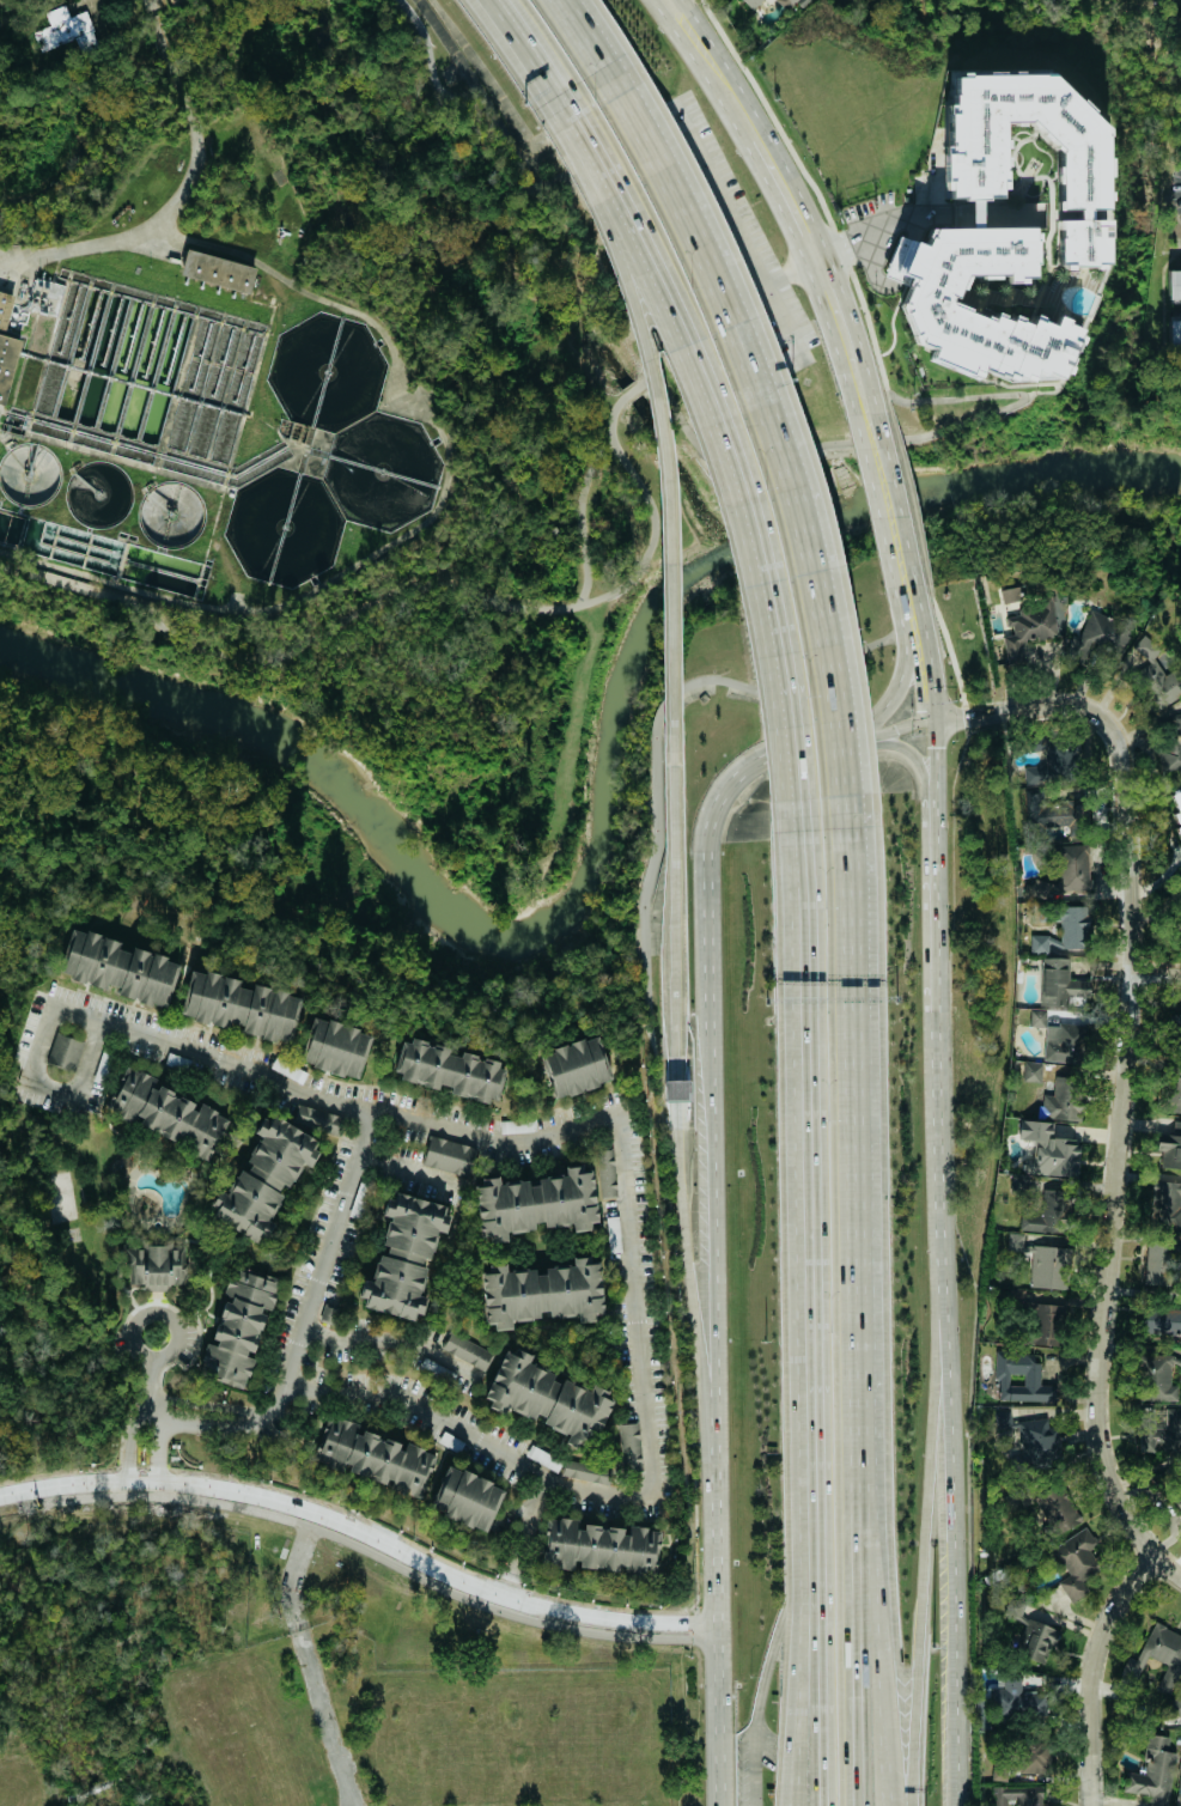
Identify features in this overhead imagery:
building: (751, 2)
building: (789, 2)
road: (154, 19)
building: (65, 30)
road: (589, 48)
building: (1180, 53)
road: (535, 59)
road: (511, 65)
road: (179, 85)
road: (469, 116)
road: (187, 189)
road: (787, 197)
road: (585, 221)
building: (1003, 227)
road: (735, 230)
parking lot: (739, 230)
road: (884, 232)
building: (217, 270)
road: (791, 275)
road: (732, 279)
building: (1174, 284)
road: (726, 304)
building: (5, 308)
road: (684, 322)
building: (1175, 334)
building: (7, 361)
road: (647, 376)
road: (784, 376)
road: (629, 390)
wastewater plant: (201, 422)
road: (663, 422)
road: (902, 439)
road: (446, 445)
road: (808, 495)
road: (890, 498)
road: (582, 523)
road: (401, 590)
building: (1009, 594)
road: (912, 619)
building: (1027, 631)
building: (1098, 637)
road: (829, 662)
road: (784, 670)
building: (1156, 676)
road: (923, 687)
road: (899, 693)
traffic signals: (929, 724)
road: (901, 728)
building: (1171, 740)
road: (817, 748)
road: (915, 759)
building: (1053, 761)
road: (933, 764)
building: (1176, 809)
building: (1053, 813)
river: (610, 826)
building: (1066, 870)
road: (938, 906)
building: (117, 966)
road: (1155, 974)
building: (1059, 981)
building: (242, 1007)
road: (108, 1026)
building: (1176, 1026)
road: (651, 1027)
building: (1059, 1039)
building: (335, 1047)
building: (65, 1052)
road: (1126, 1054)
building: (574, 1066)
building: (448, 1069)
building: (1029, 1070)
building: (676, 1090)
toll booth: (677, 1091)
building: (1173, 1093)
building: (1063, 1097)
road: (677, 1100)
building: (163, 1112)
building: (1169, 1145)
building: (1048, 1150)
building: (448, 1155)
building: (607, 1170)
road: (407, 1176)
building: (262, 1178)
road: (804, 1180)
building: (1021, 1184)
building: (535, 1203)
building: (1049, 1211)
building: (1015, 1241)
building: (403, 1255)
building: (156, 1264)
building: (1158, 1265)
building: (1051, 1266)
road: (319, 1267)
road: (713, 1276)
road: (860, 1281)
building: (541, 1291)
building: (1161, 1320)
building: (1045, 1324)
building: (237, 1326)
road: (386, 1338)
road: (132, 1350)
building: (467, 1350)
road: (638, 1370)
building: (1162, 1375)
building: (1021, 1378)
road: (148, 1393)
building: (548, 1398)
road: (944, 1407)
road: (142, 1410)
road: (241, 1415)
building: (1159, 1417)
road: (163, 1425)
road: (241, 1425)
building: (1159, 1433)
building: (629, 1446)
building: (373, 1455)
building: (584, 1471)
building: (1175, 1496)
building: (467, 1497)
building: (1057, 1508)
road: (522, 1539)
road: (361, 1540)
building: (596, 1546)
building: (662, 1552)
building: (1076, 1562)
road: (1168, 1569)
road: (924, 1570)
road: (288, 1571)
road: (809, 1586)
building: (1036, 1642)
building: (1164, 1664)
road: (1091, 1673)
road: (762, 1678)
building: (1016, 1701)
road: (799, 1705)
road: (822, 1709)
road: (322, 1717)
building: (1027, 1757)
building: (1155, 1770)
road: (871, 1784)
building: (1021, 1795)
building: (1180, 1798)
road: (798, 1802)

